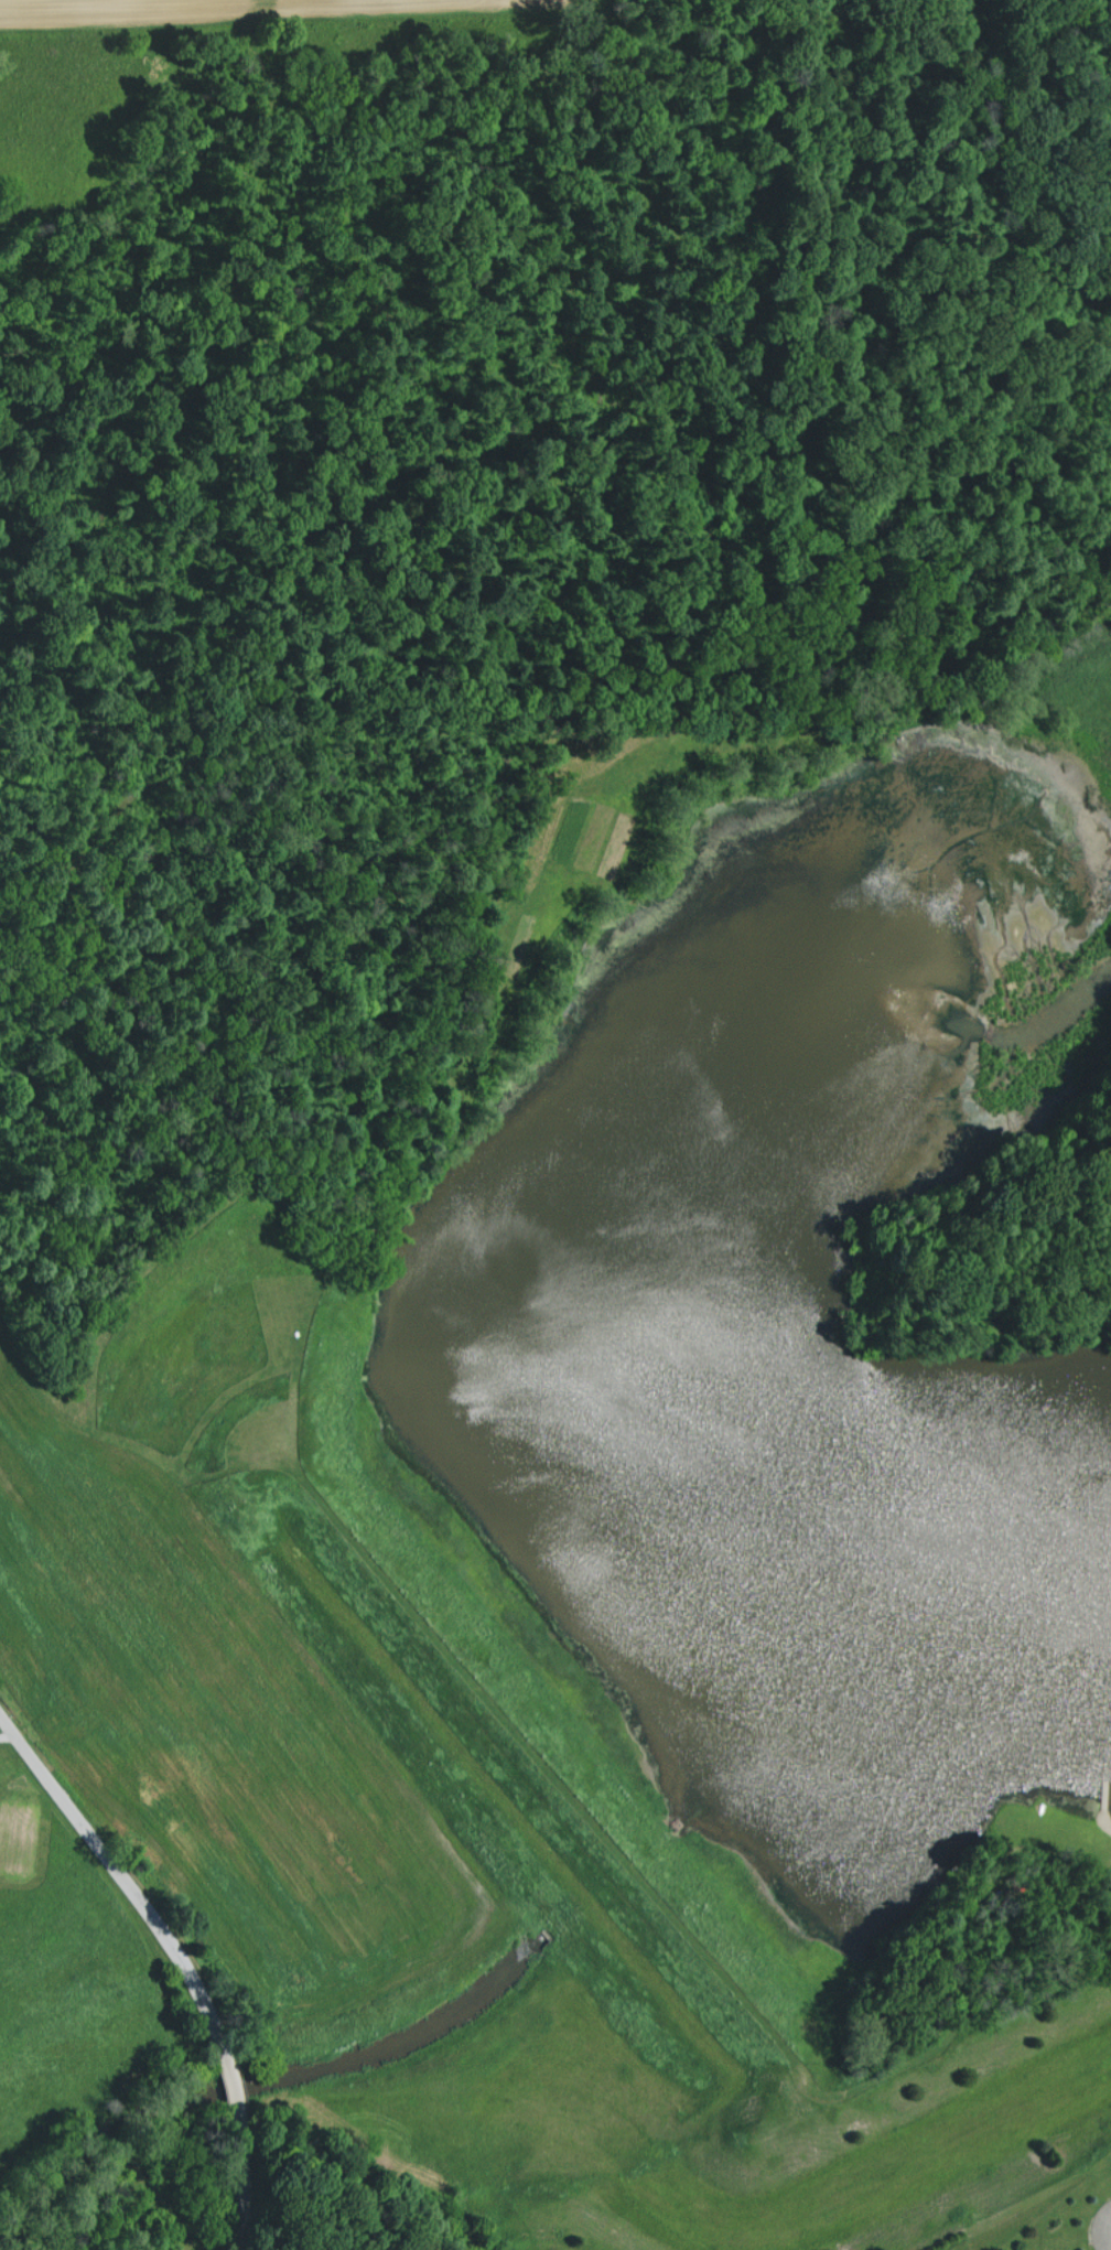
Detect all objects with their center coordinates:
road: (182, 1961)

